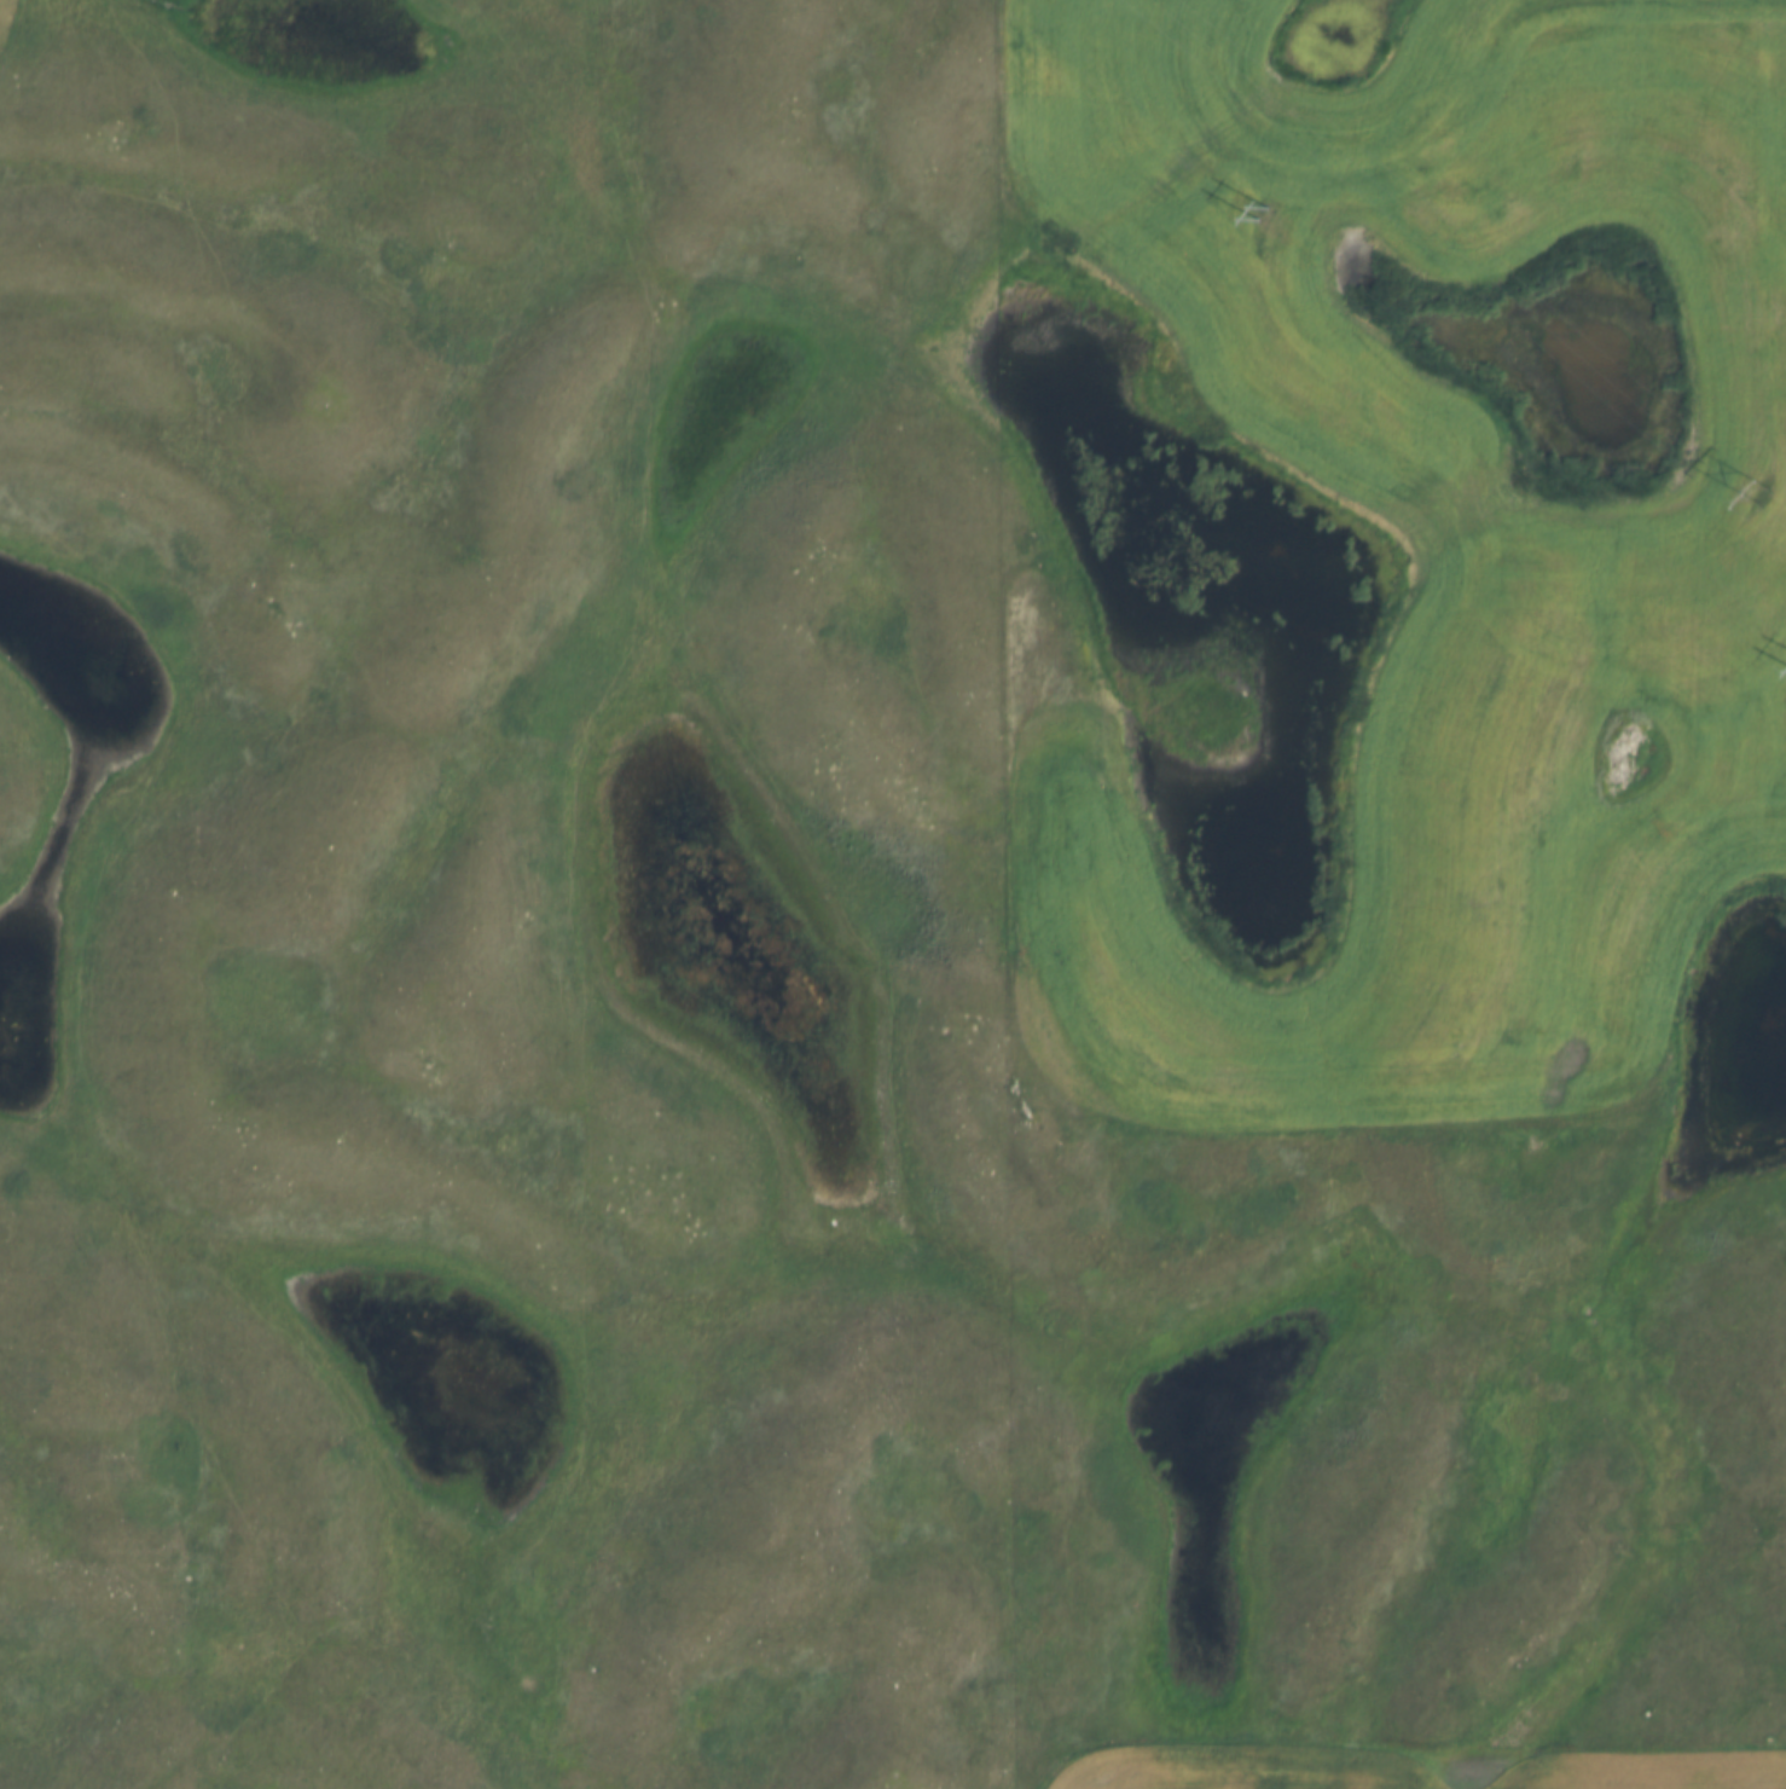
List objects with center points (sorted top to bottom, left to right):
power tower: (1756, 498)

